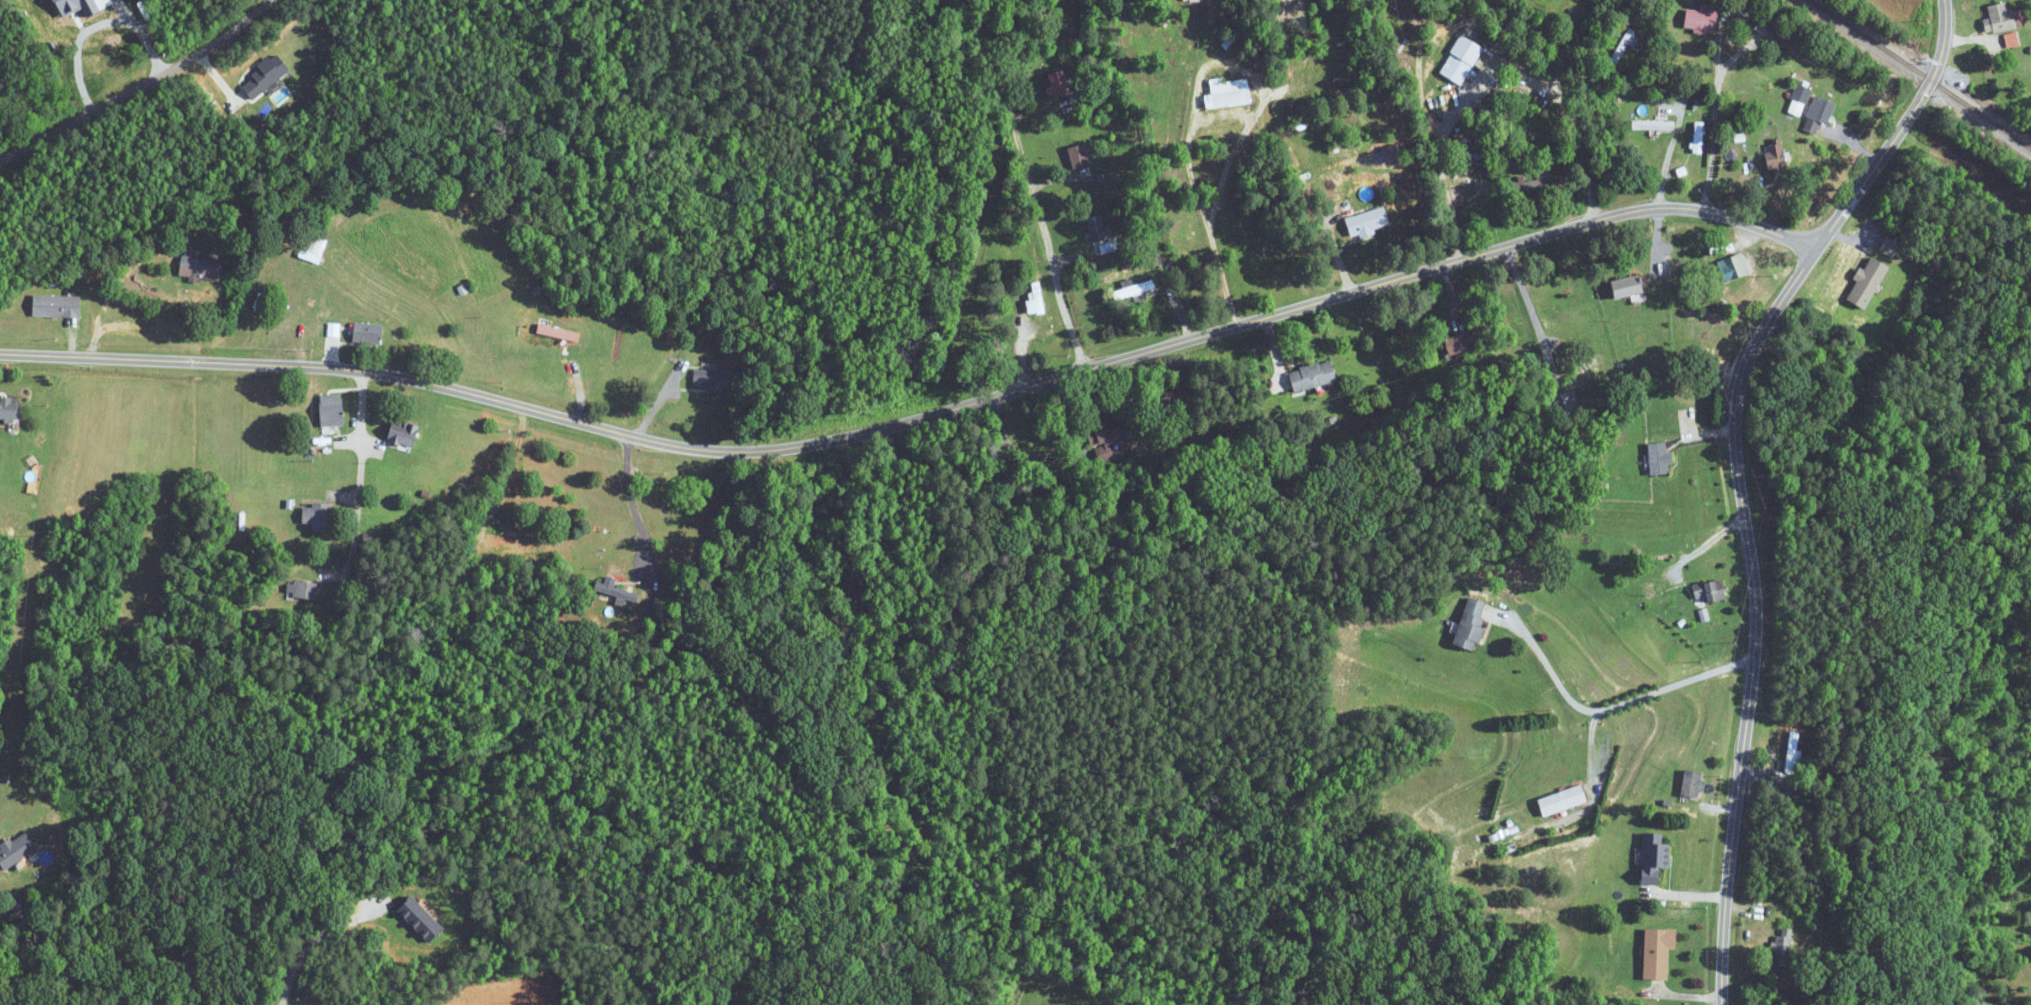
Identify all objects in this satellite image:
building: (1700, 18)
building: (1998, 18)
road: (81, 25)
road: (1717, 54)
building: (1460, 60)
road: (1491, 73)
railway: (1922, 73)
road: (134, 81)
building: (1059, 84)
building: (1227, 94)
building: (1799, 100)
building: (1819, 110)
building: (1698, 137)
building: (1774, 155)
building: (1078, 156)
building: (1533, 183)
road: (1027, 185)
building: (1366, 223)
building: (1097, 228)
building: (1888, 246)
building: (312, 248)
building: (199, 267)
building: (1732, 268)
building: (1865, 283)
building: (1625, 287)
building: (1133, 290)
building: (1035, 298)
building: (57, 306)
road: (1532, 315)
building: (367, 334)
building: (1457, 344)
building: (1310, 376)
building: (711, 380)
building: (1566, 404)
building: (10, 409)
building: (332, 410)
road: (920, 415)
building: (404, 433)
building: (1112, 440)
building: (1658, 458)
road: (1738, 474)
road: (359, 477)
road: (631, 503)
building: (318, 516)
building: (522, 541)
building: (302, 590)
building: (617, 591)
building: (1708, 592)
building: (1469, 624)
road: (1677, 683)
road: (1572, 698)
building: (1791, 752)
building: (1692, 784)
building: (1561, 801)
building: (17, 850)
building: (1653, 858)
road: (311, 945)
building: (1783, 948)
building: (1657, 953)

